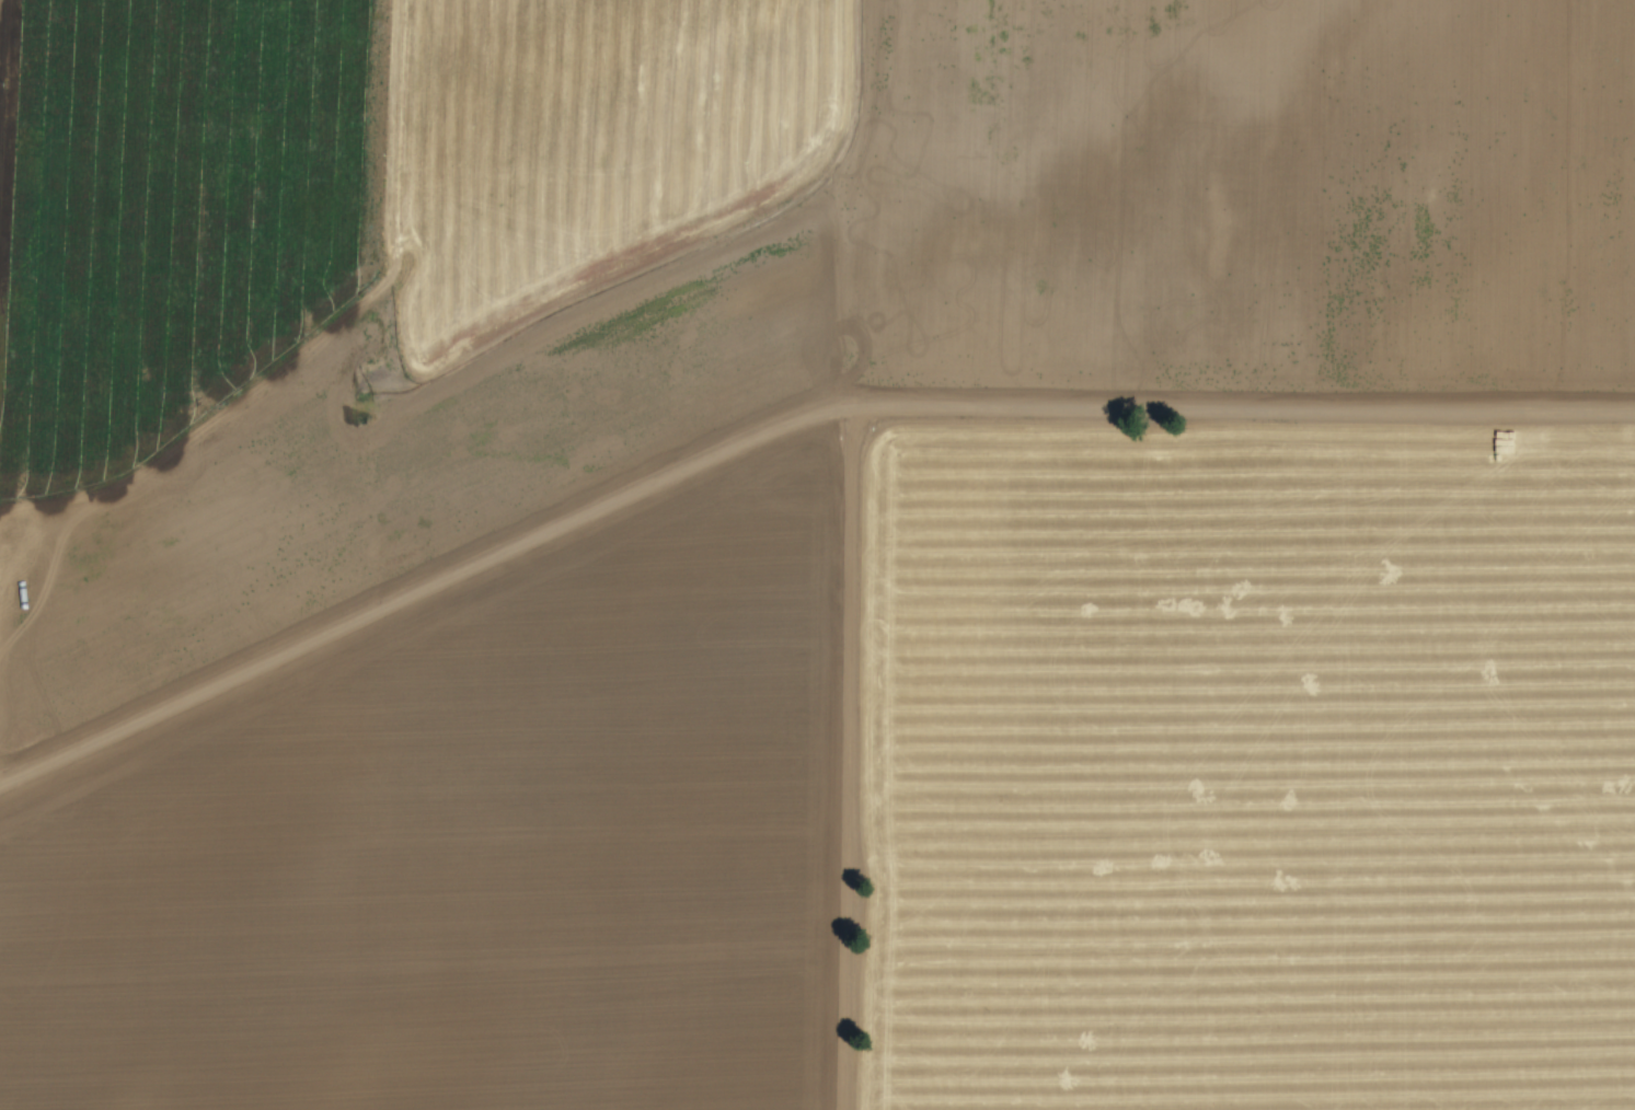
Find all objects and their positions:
road: (770, 409)

